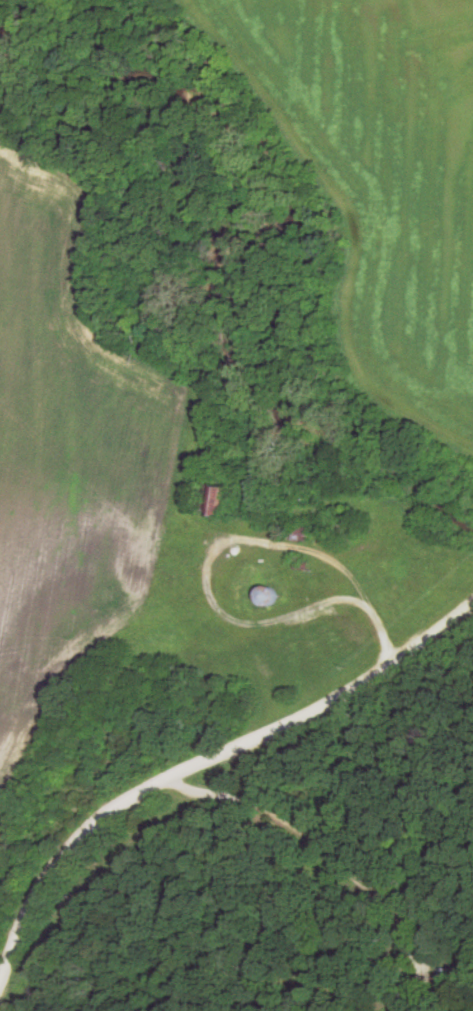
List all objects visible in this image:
building: (224, 501)
road: (204, 762)

